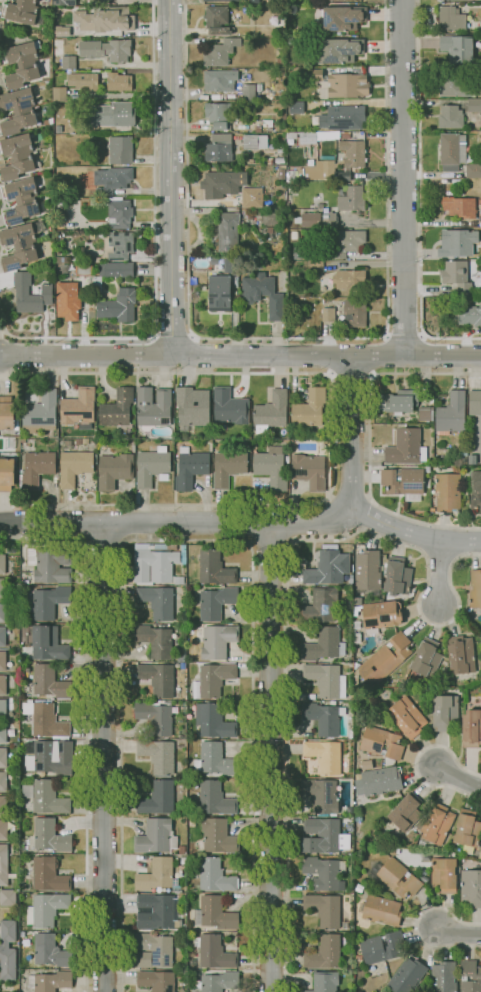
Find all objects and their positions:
building: (215, 0)
building: (340, 0)
building: (63, 2)
building: (22, 13)
building: (343, 18)
building: (102, 19)
building: (216, 20)
building: (454, 20)
building: (278, 23)
building: (278, 46)
building: (57, 48)
building: (456, 49)
building: (106, 50)
building: (340, 50)
building: (220, 52)
building: (280, 56)
building: (21, 64)
building: (92, 70)
building: (97, 70)
building: (480, 72)
building: (219, 80)
building: (83, 81)
building: (118, 82)
building: (340, 84)
building: (444, 87)
building: (476, 91)
building: (59, 93)
building: (247, 93)
road: (118, 96)
building: (474, 105)
building: (18, 111)
building: (113, 114)
building: (219, 115)
building: (283, 117)
building: (450, 117)
building: (342, 118)
building: (46, 122)
building: (58, 129)
building: (257, 129)
building: (291, 135)
building: (345, 135)
building: (317, 137)
building: (254, 142)
building: (280, 149)
building: (120, 150)
building: (451, 151)
building: (218, 152)
building: (16, 157)
building: (268, 161)
building: (279, 161)
road: (386, 163)
road: (419, 163)
building: (332, 164)
road: (154, 166)
building: (472, 171)
building: (281, 174)
road: (169, 177)
road: (401, 177)
building: (110, 180)
building: (221, 184)
building: (250, 197)
building: (350, 197)
building: (21, 200)
building: (319, 206)
building: (459, 206)
building: (118, 213)
road: (186, 215)
building: (271, 217)
building: (329, 219)
building: (308, 220)
building: (40, 226)
building: (269, 232)
building: (224, 233)
building: (294, 236)
building: (456, 242)
building: (345, 244)
building: (119, 245)
building: (19, 246)
building: (300, 253)
building: (82, 258)
building: (62, 259)
building: (316, 266)
building: (57, 267)
building: (65, 268)
building: (83, 269)
building: (111, 273)
building: (458, 279)
building: (348, 280)
building: (257, 287)
building: (21, 290)
building: (220, 293)
building: (67, 300)
building: (118, 306)
building: (276, 307)
building: (354, 313)
building: (327, 314)
building: (468, 315)
road: (403, 327)
road: (173, 332)
road: (28, 338)
road: (337, 338)
road: (447, 339)
road: (108, 340)
road: (388, 350)
road: (420, 350)
road: (155, 352)
road: (176, 355)
road: (194, 355)
road: (417, 356)
road: (10, 373)
road: (351, 377)
building: (397, 401)
building: (430, 402)
building: (474, 402)
building: (192, 407)
building: (79, 408)
building: (153, 408)
building: (229, 408)
building: (117, 409)
building: (311, 410)
building: (270, 412)
building: (6, 413)
building: (40, 413)
building: (451, 413)
building: (425, 414)
road: (352, 433)
road: (335, 436)
building: (81, 441)
road: (367, 442)
building: (67, 444)
building: (404, 447)
building: (133, 448)
building: (75, 466)
building: (151, 466)
building: (228, 467)
building: (190, 468)
building: (272, 468)
building: (36, 469)
building: (114, 470)
building: (308, 471)
building: (6, 474)
building: (402, 483)
road: (349, 489)
building: (475, 491)
building: (447, 492)
road: (364, 514)
road: (326, 519)
road: (134, 524)
road: (310, 525)
road: (413, 534)
road: (186, 540)
road: (103, 542)
road: (269, 542)
building: (2, 564)
building: (50, 564)
building: (155, 564)
building: (327, 566)
building: (213, 568)
building: (367, 573)
road: (439, 574)
building: (397, 577)
building: (2, 588)
building: (475, 589)
building: (49, 601)
building: (157, 602)
building: (216, 602)
building: (320, 606)
building: (3, 612)
road: (419, 612)
building: (380, 615)
building: (2, 636)
building: (155, 639)
building: (23, 641)
building: (217, 641)
building: (46, 643)
building: (323, 645)
building: (460, 654)
building: (426, 658)
building: (385, 659)
building: (2, 660)
building: (158, 678)
building: (214, 679)
building: (326, 680)
building: (49, 683)
building: (3, 684)
building: (3, 709)
building: (445, 713)
building: (155, 715)
building: (323, 717)
building: (407, 718)
building: (45, 720)
building: (213, 720)
road: (86, 724)
building: (471, 729)
road: (288, 732)
building: (3, 733)
building: (381, 743)
building: (324, 755)
building: (158, 756)
building: (2, 757)
building: (50, 757)
road: (103, 758)
road: (271, 758)
building: (216, 760)
road: (417, 761)
road: (457, 778)
building: (2, 780)
building: (381, 781)
building: (320, 795)
building: (47, 798)
building: (159, 798)
building: (215, 798)
building: (2, 804)
building: (405, 813)
building: (437, 824)
building: (419, 825)
building: (2, 828)
building: (467, 831)
building: (320, 835)
building: (50, 836)
building: (156, 836)
building: (217, 836)
building: (387, 847)
building: (182, 849)
building: (3, 864)
building: (324, 872)
building: (47, 874)
building: (445, 874)
building: (157, 875)
building: (214, 875)
building: (395, 877)
building: (470, 888)
building: (7, 896)
building: (46, 909)
building: (324, 909)
building: (380, 910)
building: (156, 912)
building: (215, 914)
road: (417, 925)
building: (184, 927)
road: (456, 933)
building: (22, 934)
building: (382, 947)
building: (7, 949)
building: (153, 950)
building: (52, 951)
building: (214, 951)
building: (326, 951)
building: (358, 959)
building: (407, 975)
building: (444, 976)
building: (476, 978)
building: (156, 980)
building: (50, 981)
building: (217, 982)
building: (325, 982)

